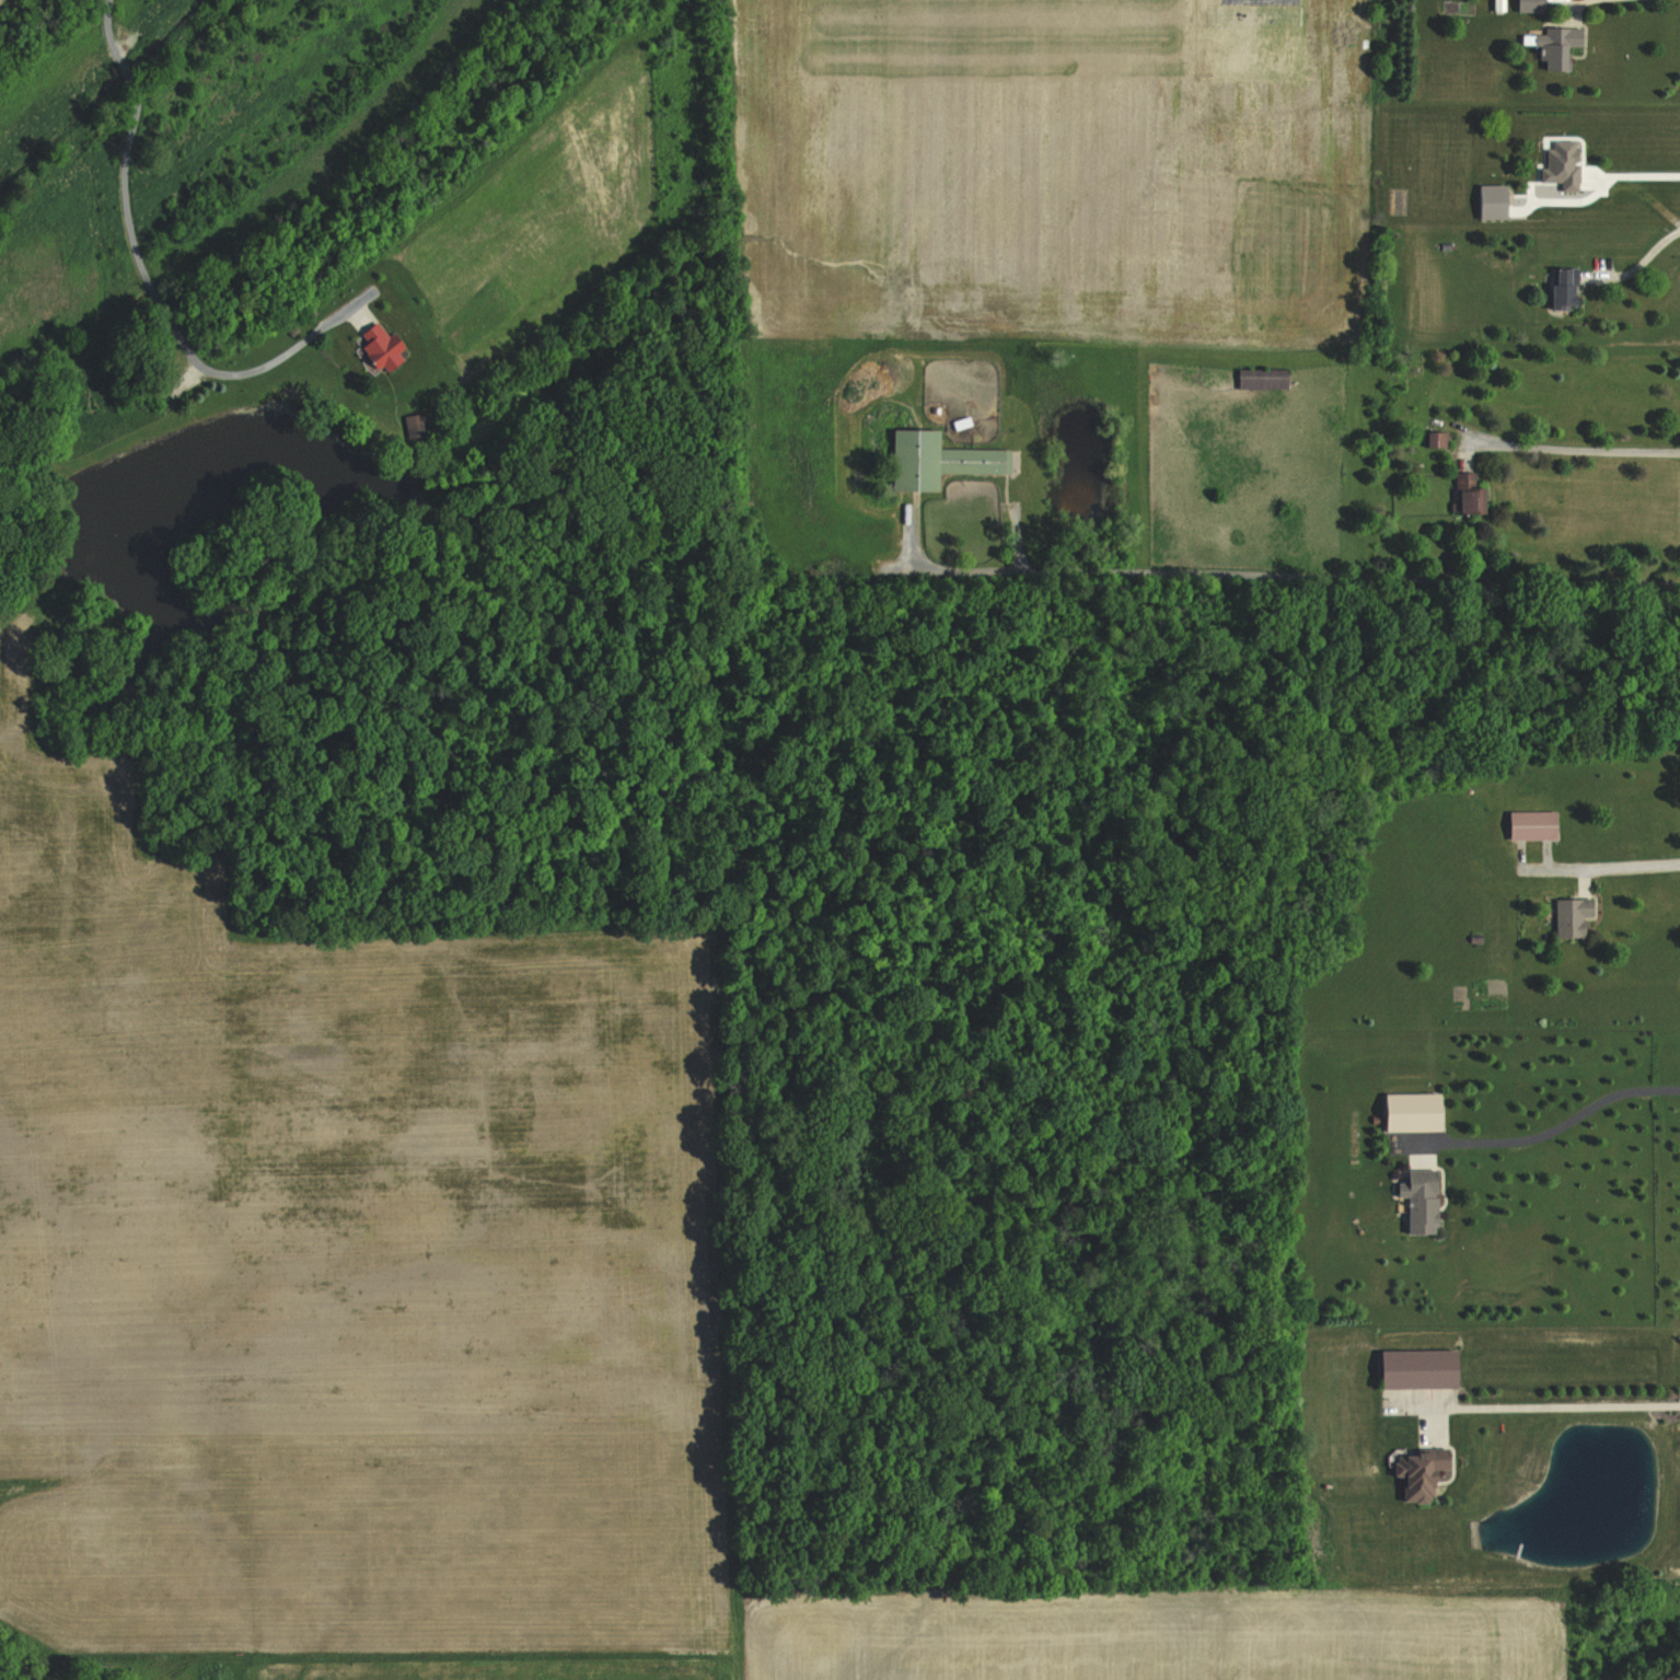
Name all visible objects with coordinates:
building: (1533, 5)
building: (1560, 46)
building: (1564, 165)
building: (1495, 201)
road: (1640, 269)
road: (144, 273)
building: (1566, 288)
building: (1264, 379)
building: (1438, 439)
road: (1569, 445)
building: (939, 460)
building: (1469, 495)
building: (1534, 825)
road: (1607, 864)
building: (1574, 917)
road: (1548, 1126)
building: (1423, 1198)
building: (1423, 1369)
road: (1556, 1400)
building: (1423, 1473)

